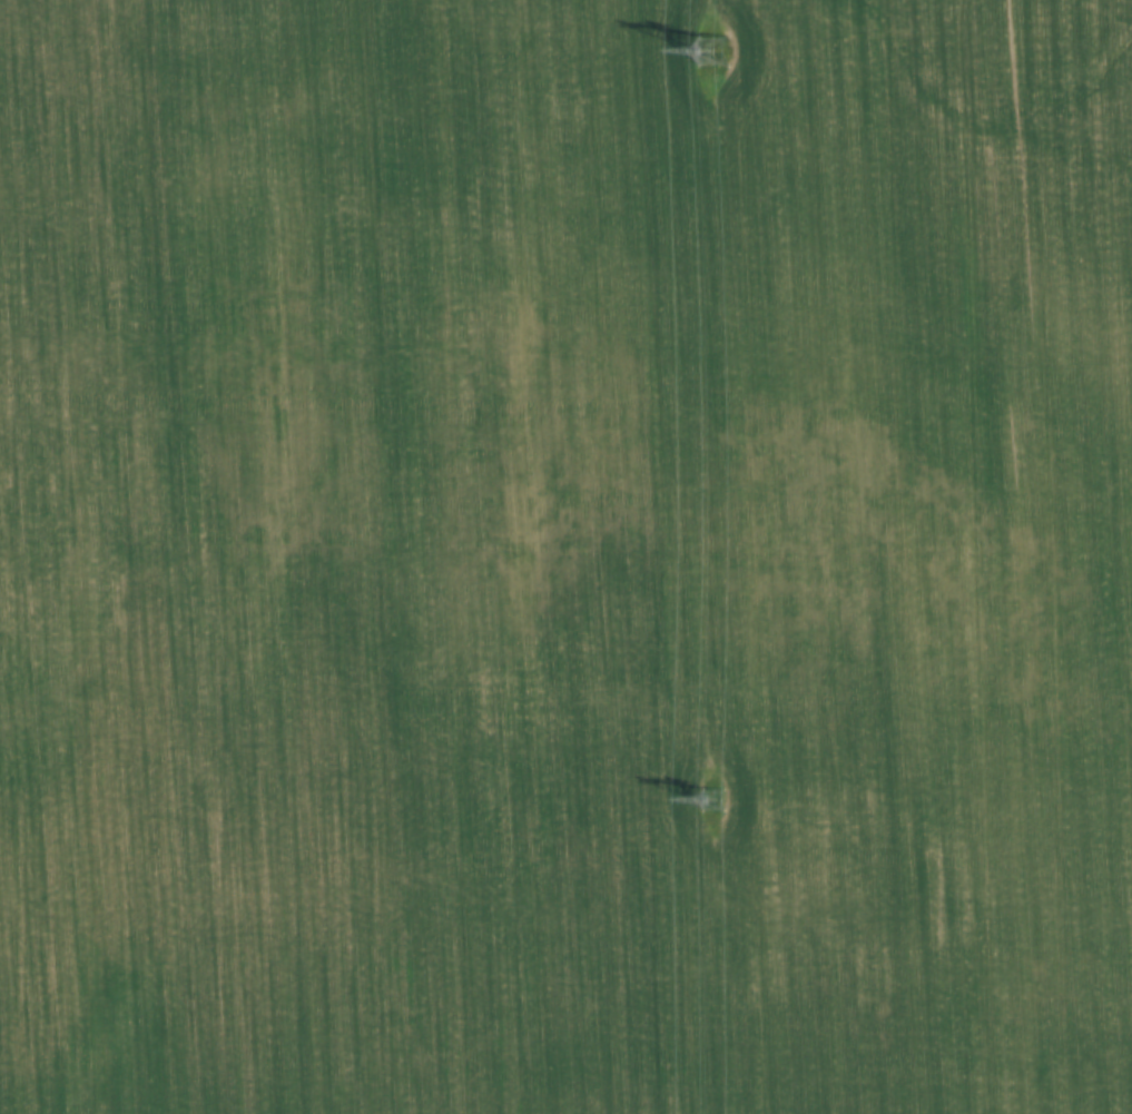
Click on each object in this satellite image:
power tower: (712, 50)
power tower: (713, 800)

